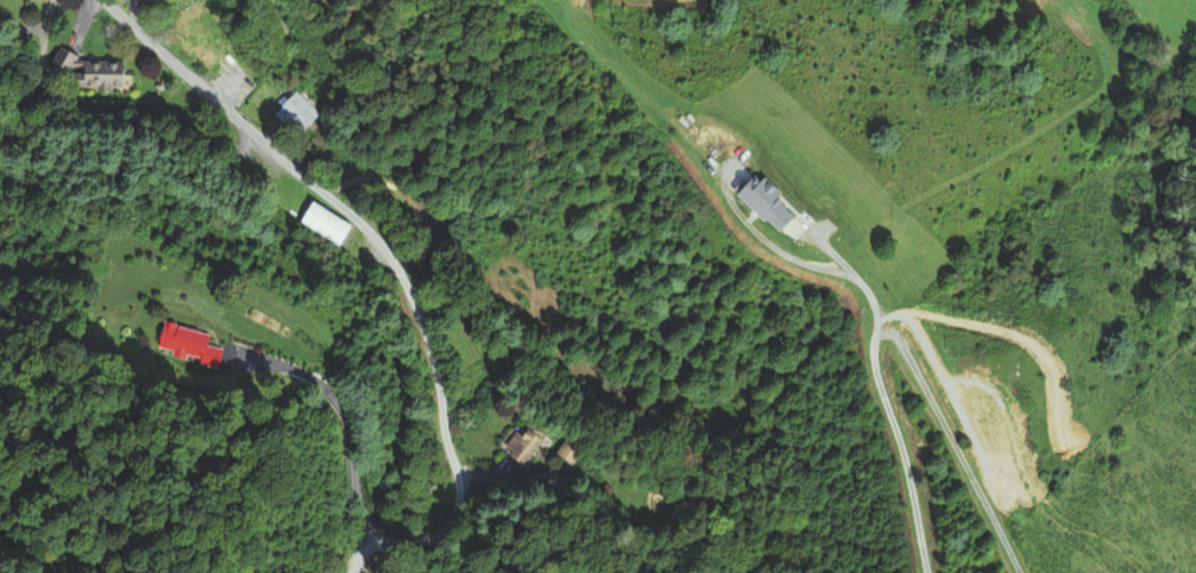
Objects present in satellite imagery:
building: (201, 27)
road: (43, 40)
building: (90, 73)
road: (200, 88)
building: (297, 115)
building: (323, 225)
road: (761, 239)
road: (825, 245)
building: (178, 341)
road: (438, 384)
road: (344, 414)
road: (892, 418)
building: (518, 442)
road: (952, 442)
building: (565, 451)

